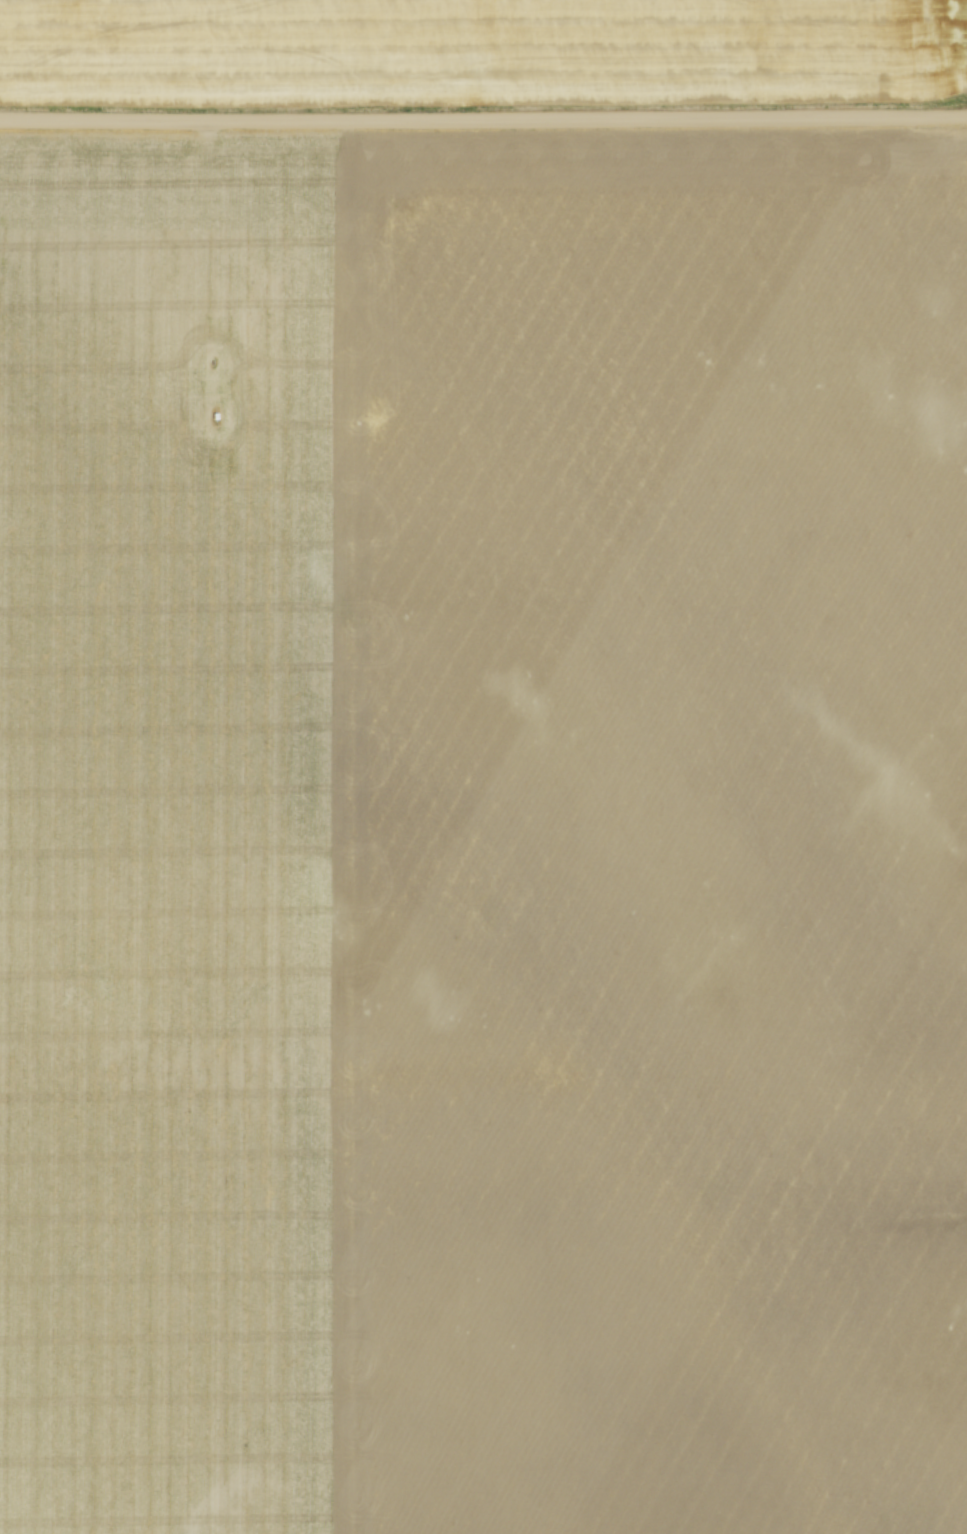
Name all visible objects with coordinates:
crop: (431, 52)
road: (483, 119)
crop: (483, 835)

